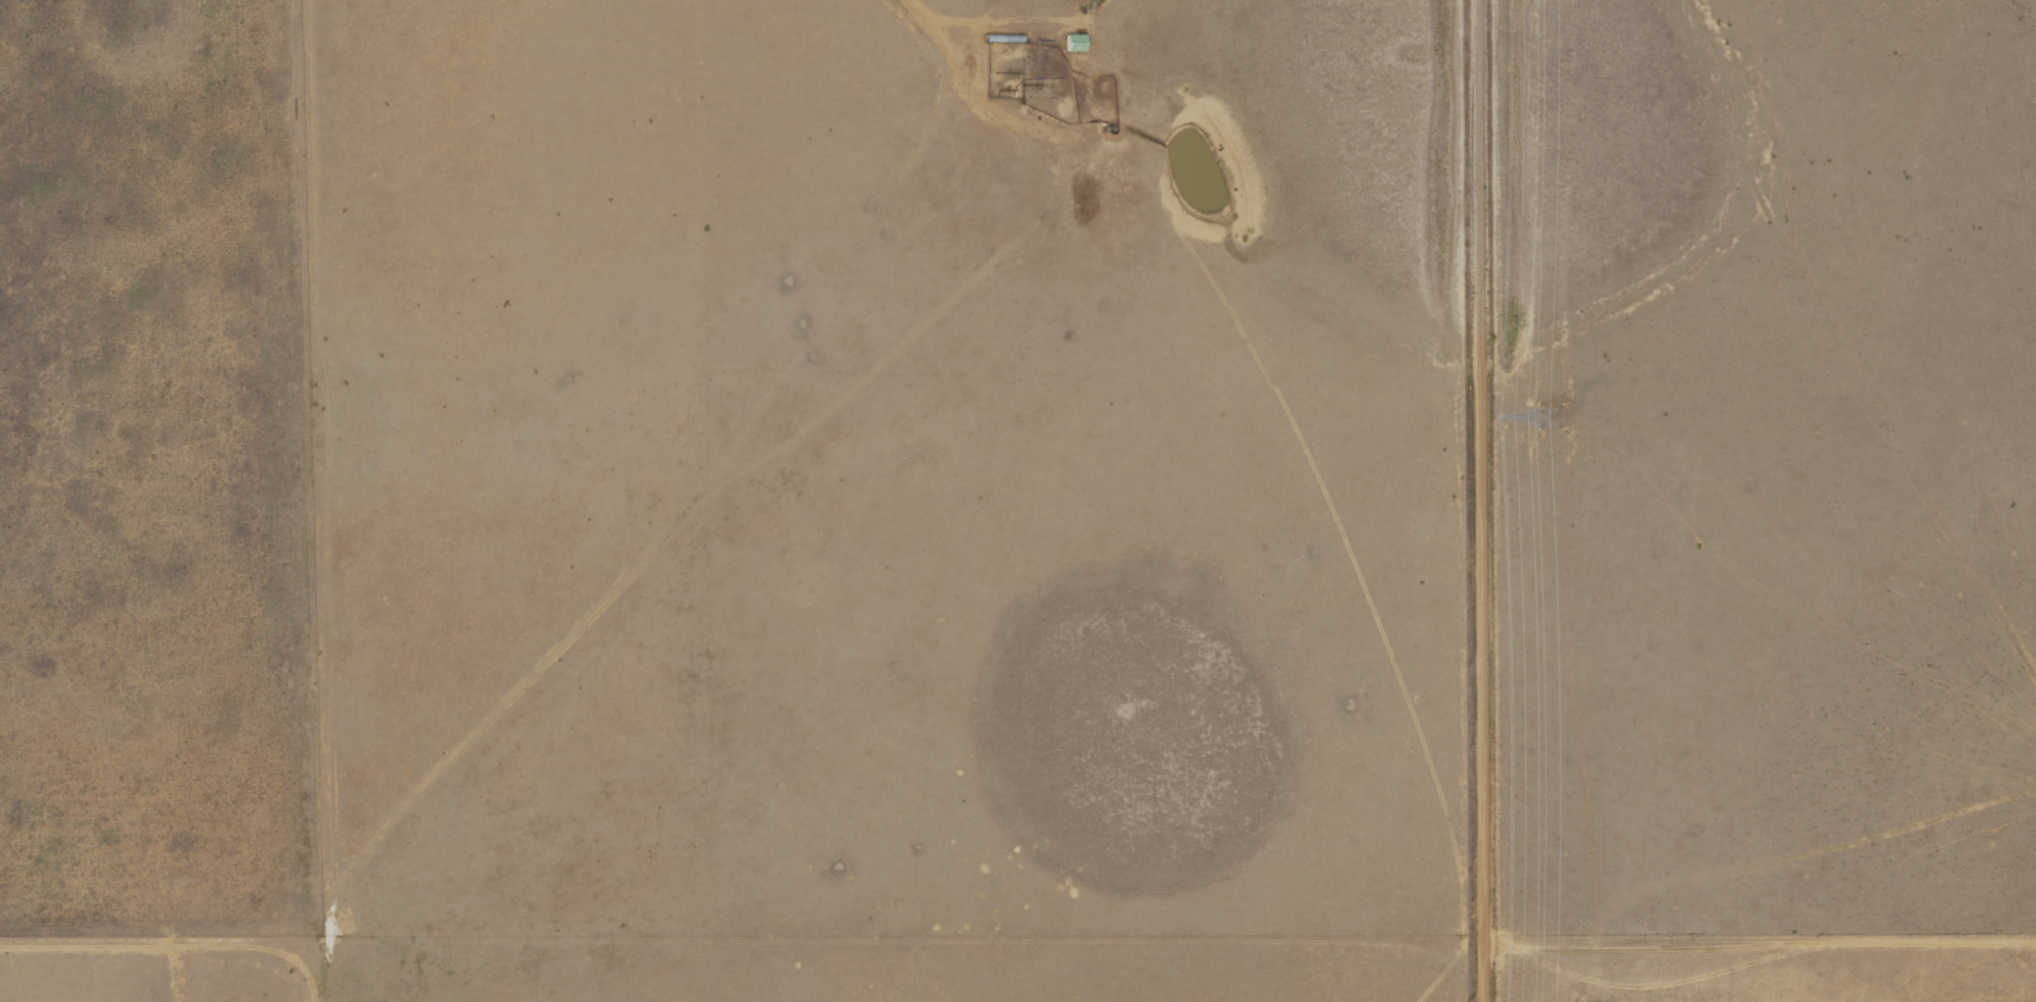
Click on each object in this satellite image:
building: (1074, 42)
road: (970, 69)
power tower: (1548, 416)
road: (1481, 501)

